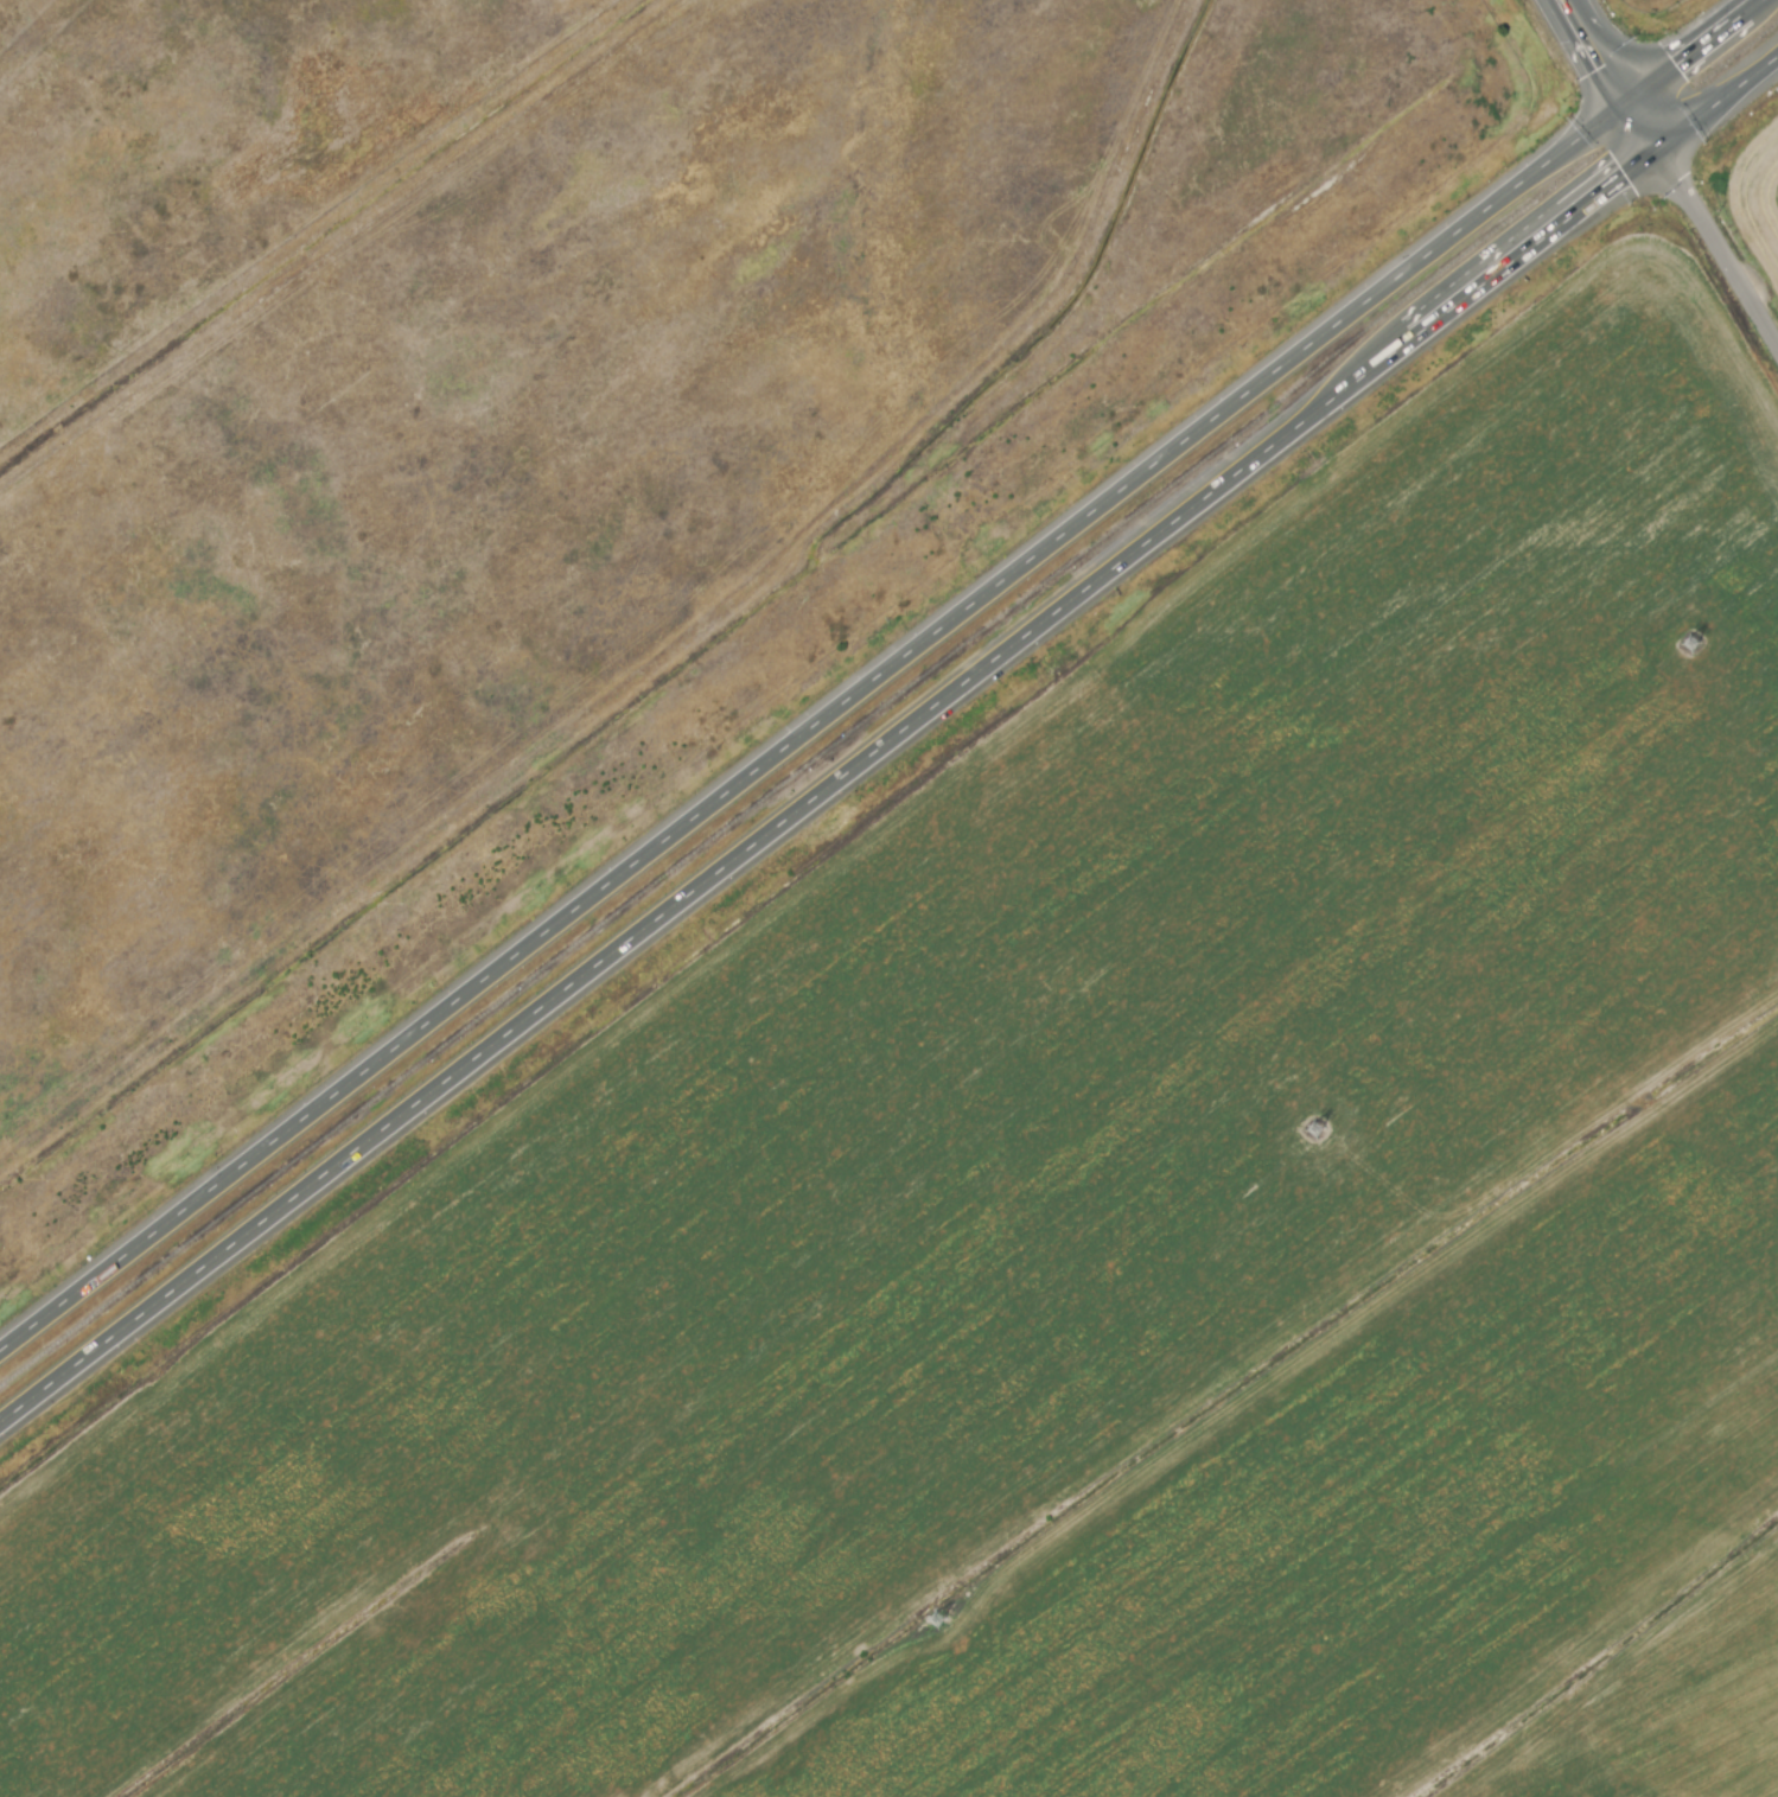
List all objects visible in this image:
road: (1691, 55)
road: (1585, 56)
road: (1714, 107)
traffic signals: (1620, 110)
road: (1636, 133)
traffic signals: (1651, 155)
road: (1715, 259)
road: (1334, 399)
power tower: (1687, 650)
road: (809, 729)
road: (509, 1033)
power tower: (1320, 1130)
power tower: (942, 1624)

